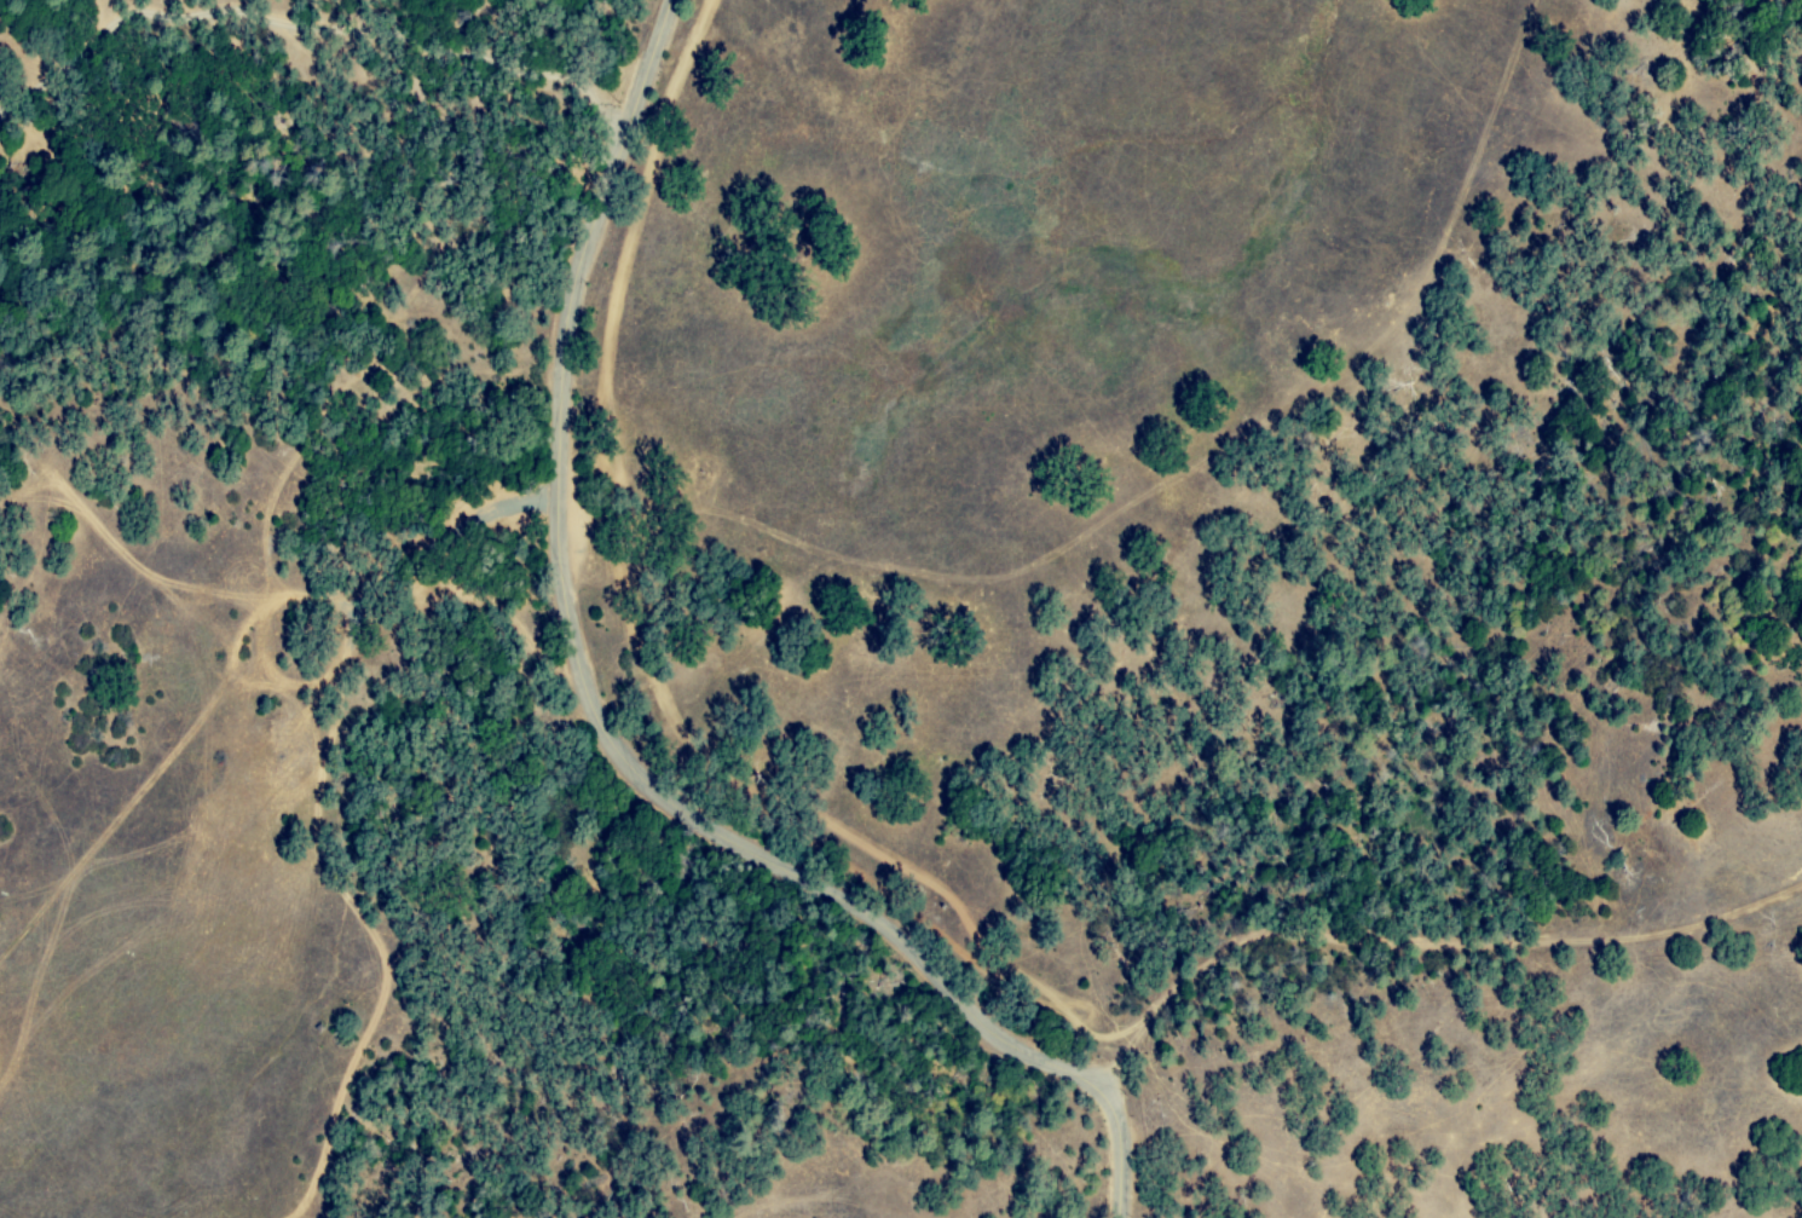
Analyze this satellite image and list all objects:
road: (229, 23)
road: (1140, 501)
road: (602, 726)
road: (1417, 945)

